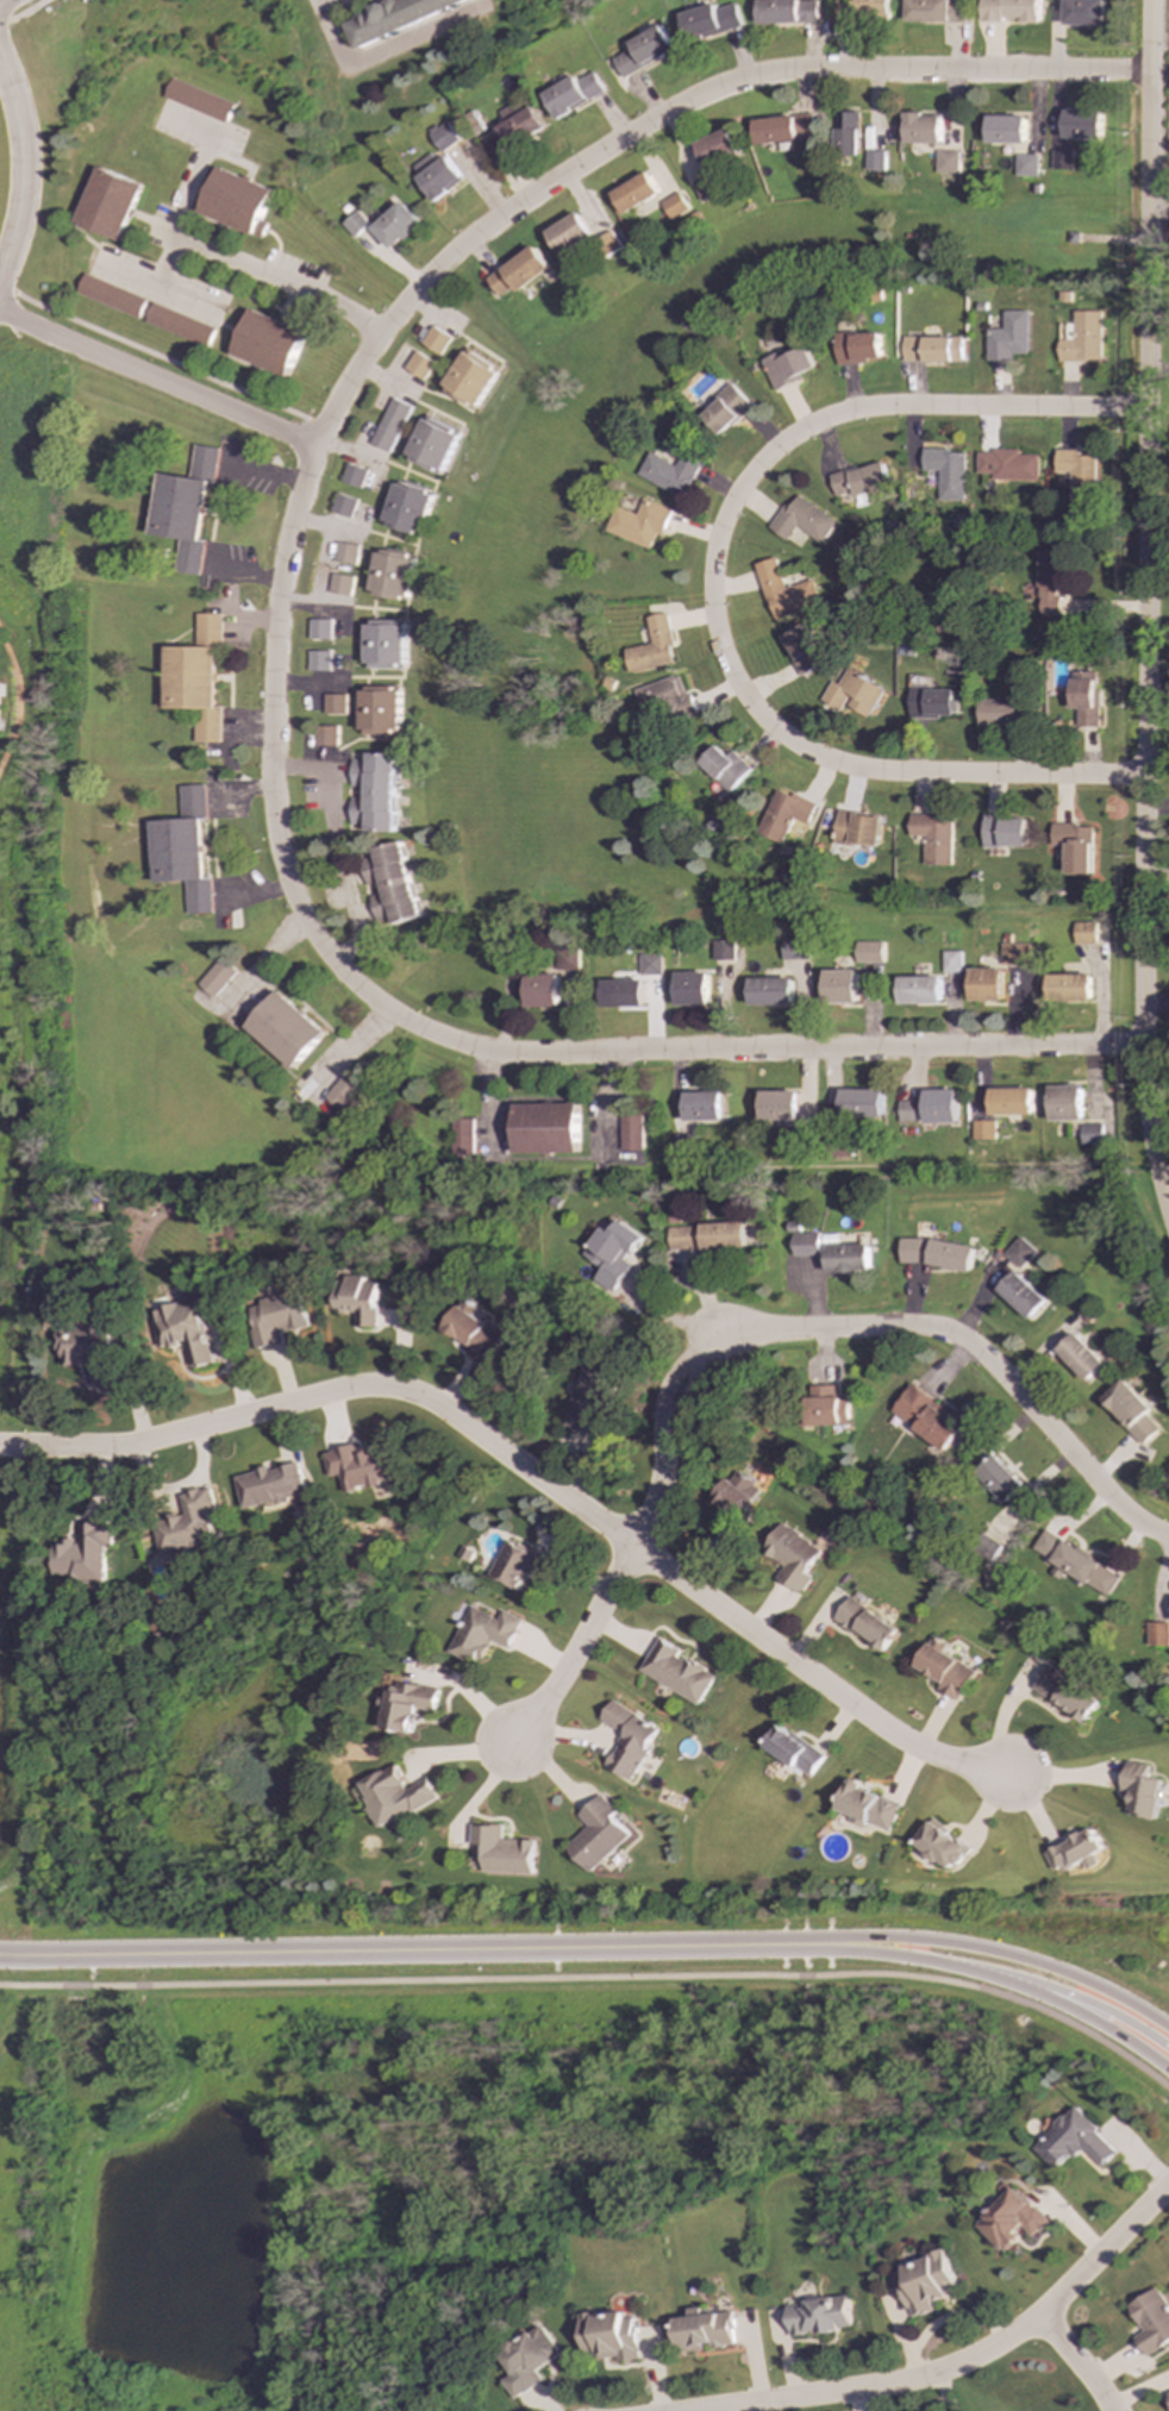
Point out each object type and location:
building: (862, 7)
building: (786, 11)
building: (934, 11)
building: (1012, 11)
road: (21, 12)
building: (1083, 12)
building: (394, 18)
building: (707, 20)
building: (642, 51)
road: (383, 52)
building: (571, 93)
building: (194, 100)
building: (1083, 125)
building: (512, 129)
building: (782, 129)
building: (923, 129)
building: (1006, 130)
building: (846, 133)
building: (715, 148)
building: (1062, 159)
building: (875, 161)
building: (948, 162)
road: (20, 163)
building: (1027, 165)
building: (435, 175)
building: (704, 187)
building: (634, 193)
building: (235, 201)
building: (106, 203)
building: (674, 206)
road: (1158, 213)
building: (354, 224)
building: (395, 225)
building: (568, 233)
building: (608, 242)
road: (212, 249)
building: (517, 271)
road: (156, 281)
building: (110, 295)
building: (179, 325)
building: (1008, 337)
building: (1082, 337)
building: (435, 340)
building: (267, 343)
building: (856, 347)
building: (932, 349)
building: (418, 365)
building: (786, 367)
road: (157, 378)
building: (469, 378)
building: (724, 411)
building: (388, 425)
building: (431, 445)
road: (348, 451)
building: (1007, 464)
building: (945, 471)
building: (667, 472)
building: (1077, 474)
building: (351, 475)
building: (858, 480)
building: (340, 505)
building: (406, 508)
building: (183, 509)
building: (801, 520)
building: (637, 522)
building: (343, 553)
building: (389, 574)
building: (1051, 580)
building: (338, 584)
road: (708, 588)
building: (783, 591)
road: (1145, 607)
building: (318, 628)
road: (273, 633)
building: (383, 644)
building: (650, 646)
building: (802, 650)
building: (317, 660)
building: (195, 677)
building: (851, 694)
building: (1084, 697)
building: (662, 701)
road: (12, 702)
building: (930, 702)
building: (332, 703)
building: (379, 709)
building: (996, 712)
building: (325, 735)
building: (724, 766)
building: (373, 791)
building: (783, 814)
building: (857, 828)
building: (1005, 831)
building: (933, 837)
building: (1075, 846)
building: (182, 850)
road: (1157, 858)
building: (389, 884)
building: (1084, 932)
building: (794, 948)
building: (721, 950)
building: (869, 952)
building: (1014, 953)
building: (564, 959)
building: (950, 962)
building: (649, 964)
building: (215, 977)
building: (986, 984)
building: (840, 987)
building: (1069, 988)
building: (690, 989)
building: (542, 990)
building: (919, 990)
building: (770, 991)
building: (621, 994)
building: (283, 1029)
building: (343, 1090)
building: (1009, 1101)
building: (861, 1103)
building: (1065, 1103)
building: (779, 1106)
building: (940, 1106)
building: (704, 1107)
building: (907, 1110)
building: (549, 1128)
building: (982, 1129)
building: (632, 1133)
building: (1092, 1135)
building: (464, 1139)
building: (706, 1236)
building: (805, 1244)
building: (1018, 1252)
building: (613, 1253)
building: (934, 1253)
building: (846, 1258)
building: (1021, 1295)
building: (357, 1298)
building: (275, 1317)
building: (183, 1330)
road: (751, 1330)
building: (473, 1333)
building: (86, 1348)
building: (1080, 1357)
building: (590, 1399)
building: (825, 1407)
building: (1130, 1410)
building: (926, 1416)
building: (360, 1466)
road: (531, 1468)
building: (999, 1478)
building: (270, 1485)
building: (736, 1492)
building: (187, 1523)
building: (984, 1548)
building: (83, 1554)
building: (792, 1557)
building: (1075, 1564)
building: (519, 1566)
building: (865, 1624)
building: (482, 1634)
building: (1157, 1634)
building: (945, 1670)
building: (676, 1671)
building: (1065, 1695)
building: (407, 1705)
building: (627, 1739)
building: (794, 1751)
building: (1142, 1790)
building: (394, 1795)
building: (869, 1806)
building: (599, 1834)
building: (942, 1846)
building: (502, 1850)
building: (1075, 1852)
road: (390, 1949)
road: (983, 1949)
road: (986, 1973)
road: (598, 1978)
road: (1065, 1992)
park: (144, 2135)
building: (1073, 2141)
building: (1011, 2219)
building: (926, 2282)
building: (819, 2316)
building: (1151, 2321)
building: (706, 2330)
building: (612, 2336)
building: (530, 2360)
road: (964, 2360)
road: (1077, 2361)
building: (1168, 2393)

